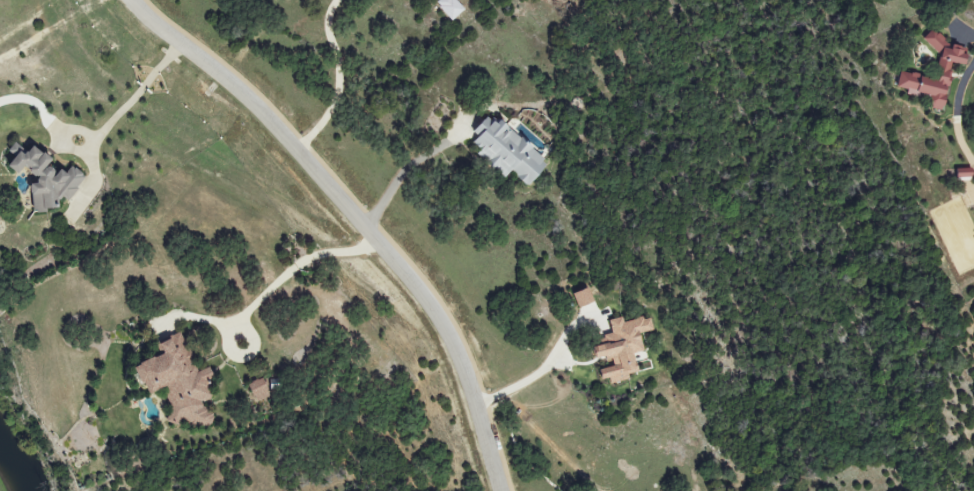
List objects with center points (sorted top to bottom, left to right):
building: (935, 73)
road: (338, 80)
road: (130, 95)
building: (507, 151)
building: (964, 173)
road: (400, 174)
building: (45, 177)
road: (351, 220)
road: (270, 288)
building: (583, 297)
building: (621, 347)
building: (179, 380)
road: (519, 381)
building: (259, 389)
park: (22, 452)

